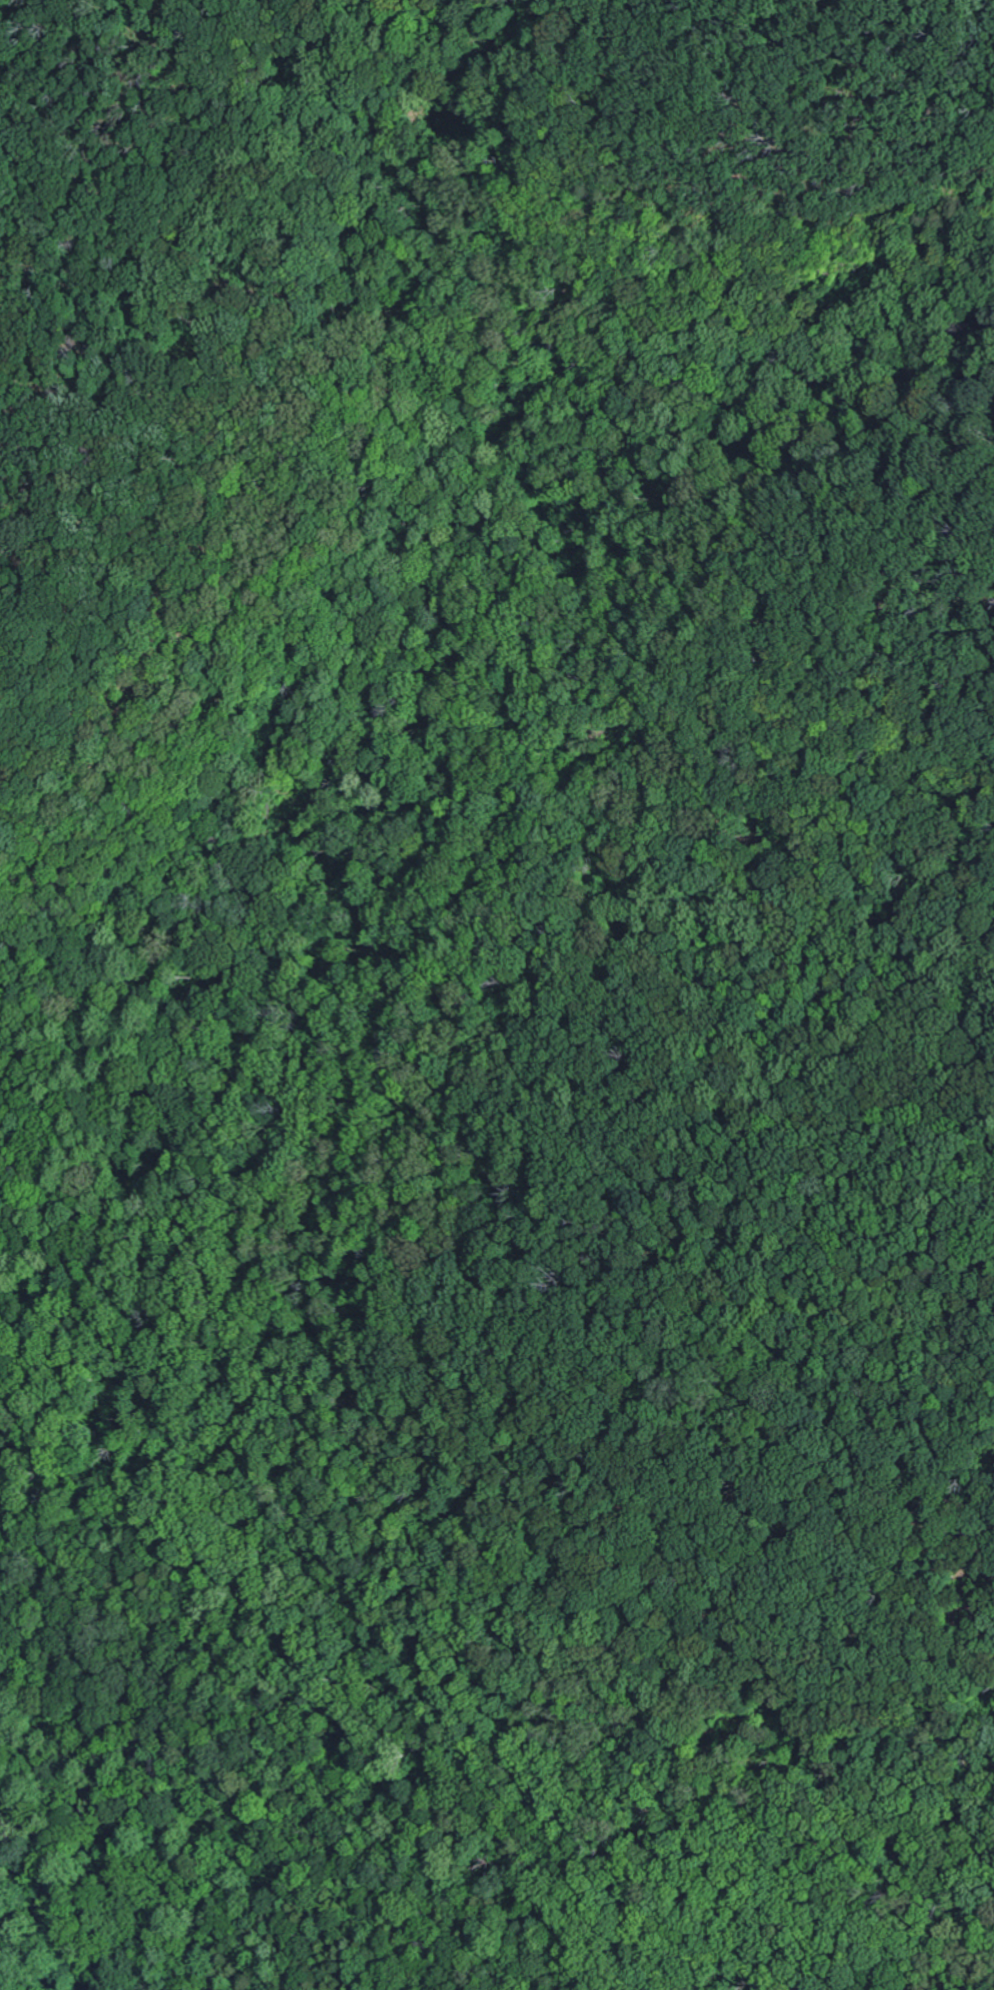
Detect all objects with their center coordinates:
road: (382, 886)

